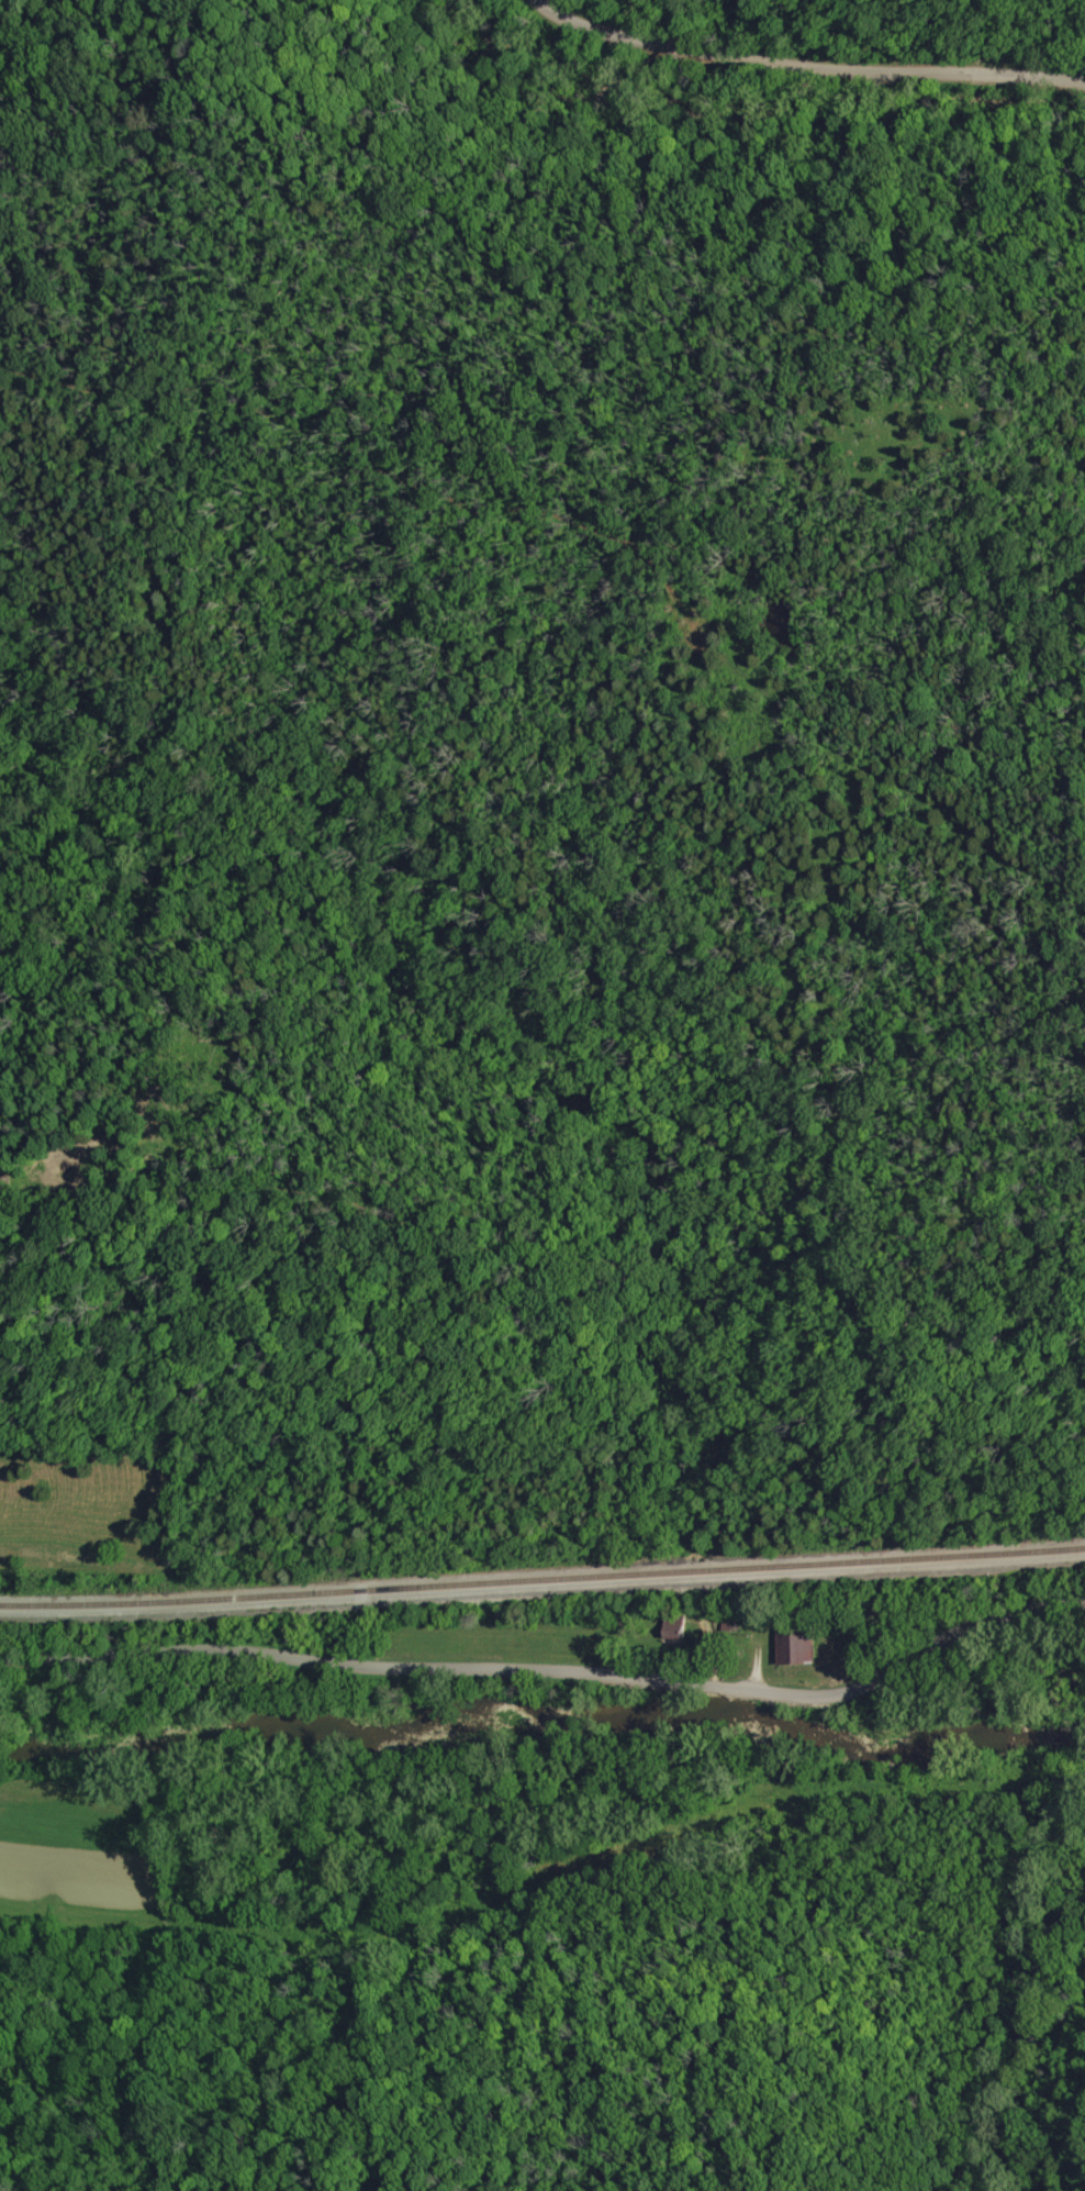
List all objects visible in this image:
road: (807, 64)
railway: (542, 1578)
building: (673, 1637)
road: (553, 1669)

